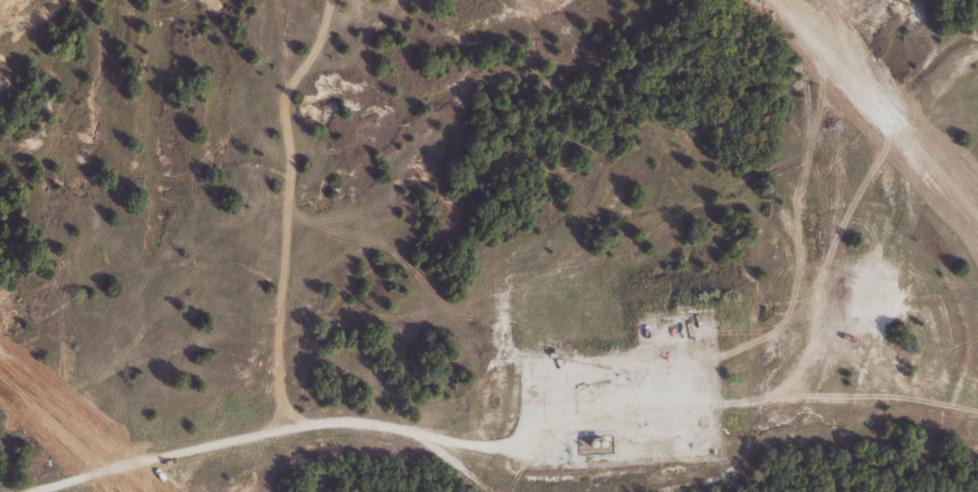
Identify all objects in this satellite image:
road: (291, 433)

